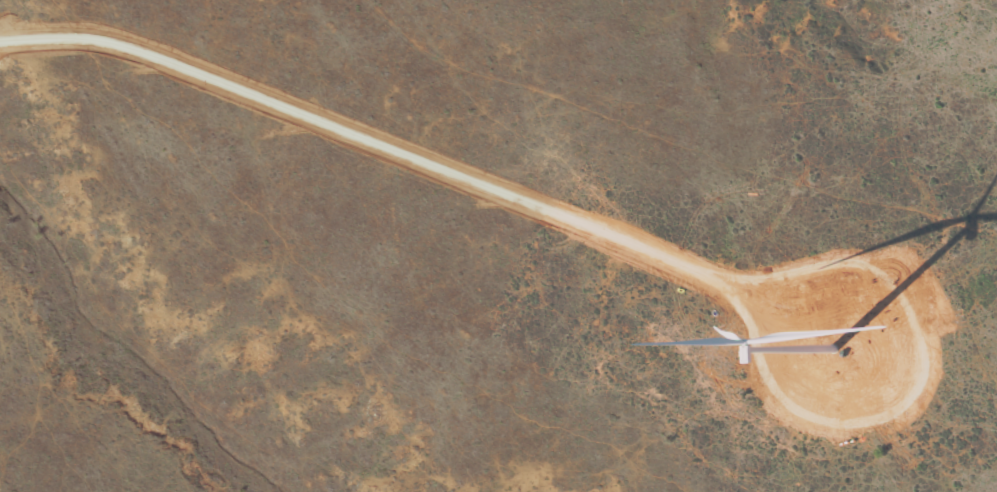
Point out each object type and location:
wind turbine: (837, 348)

